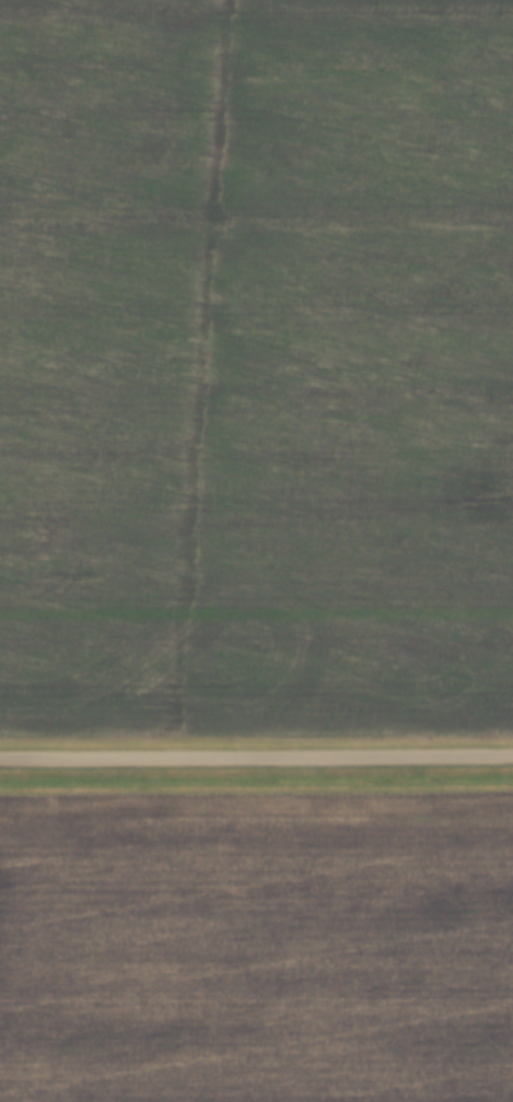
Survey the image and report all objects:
road: (256, 757)

